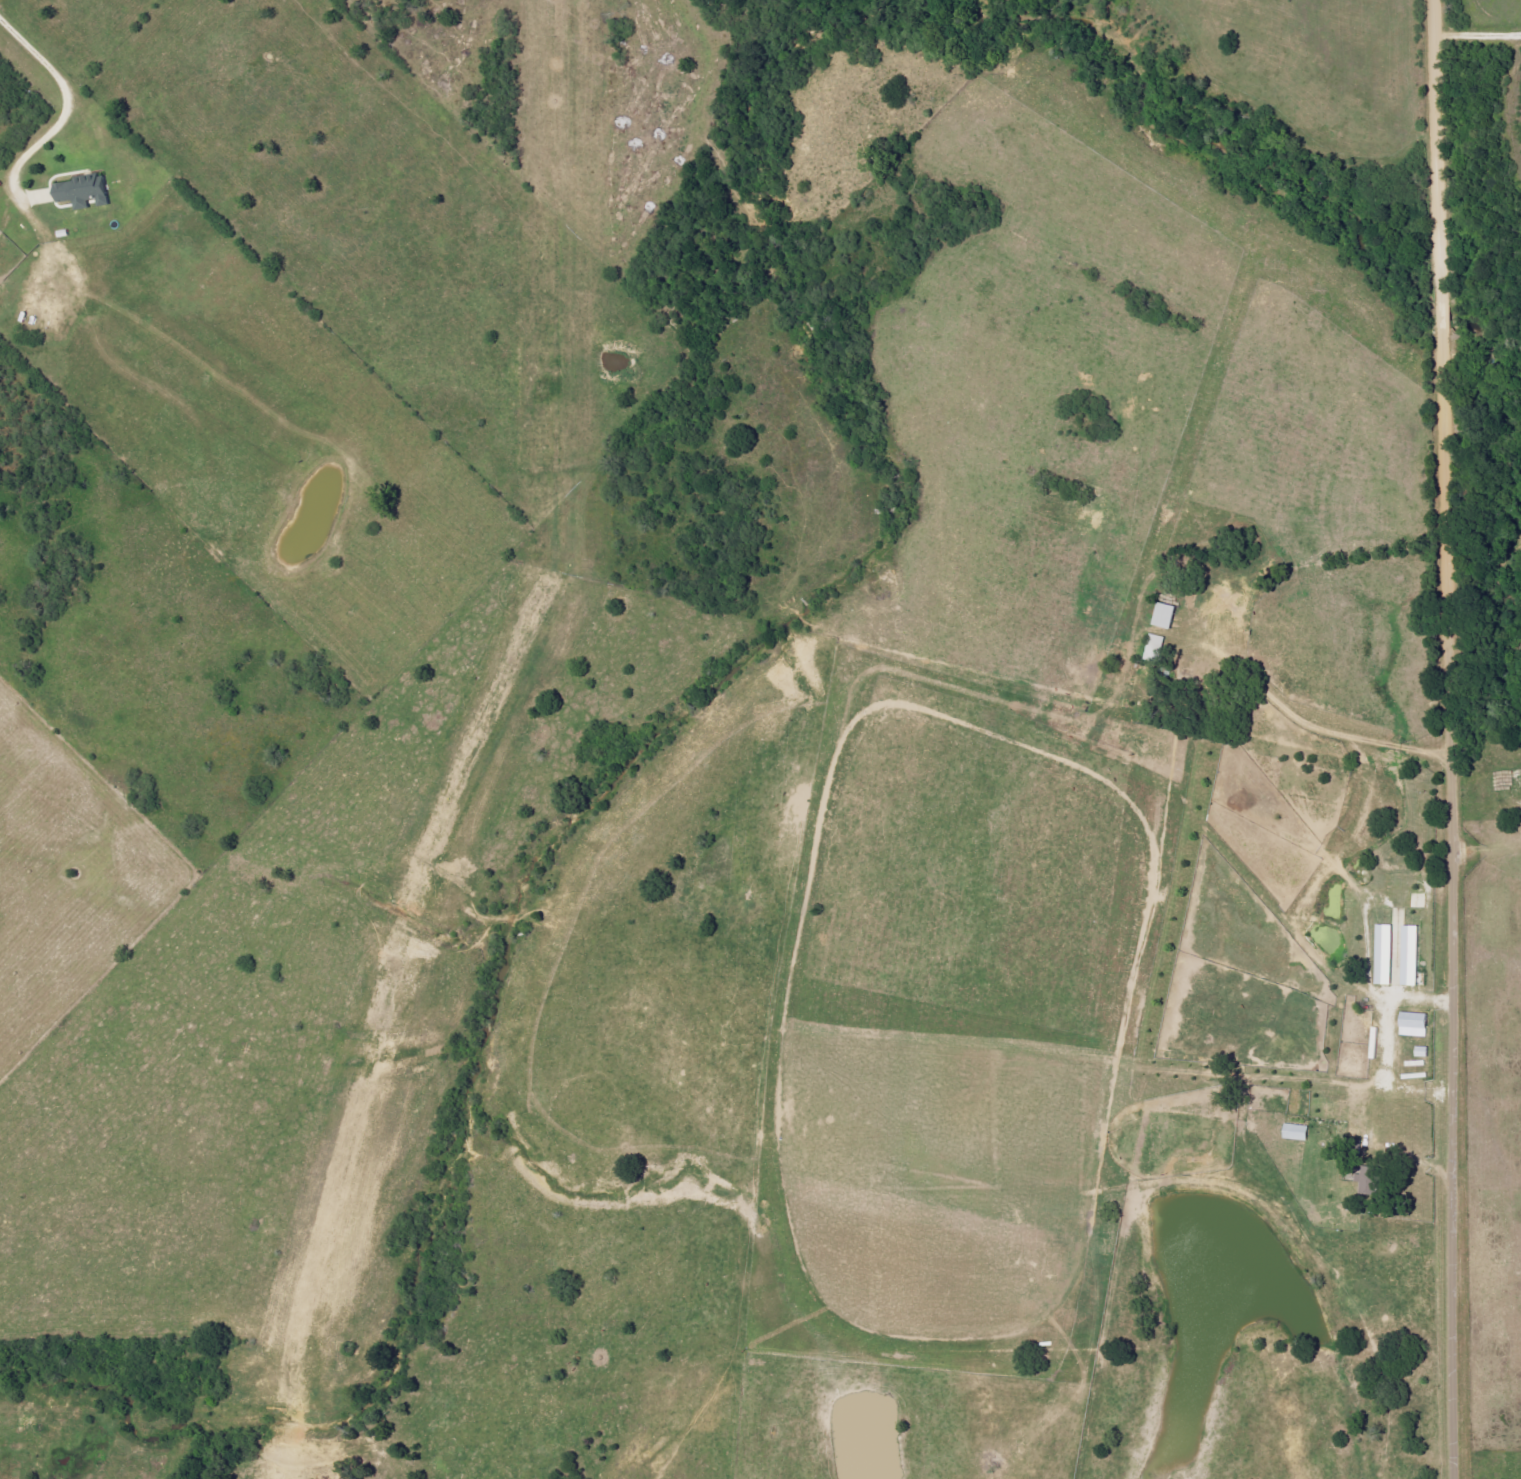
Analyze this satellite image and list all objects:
road: (63, 117)
building: (78, 188)
building: (1165, 616)
building: (1155, 648)
road: (1279, 709)
road: (1449, 739)
building: (1390, 949)
building: (1412, 956)
building: (1415, 1025)
building: (1297, 1133)
building: (1367, 1181)

